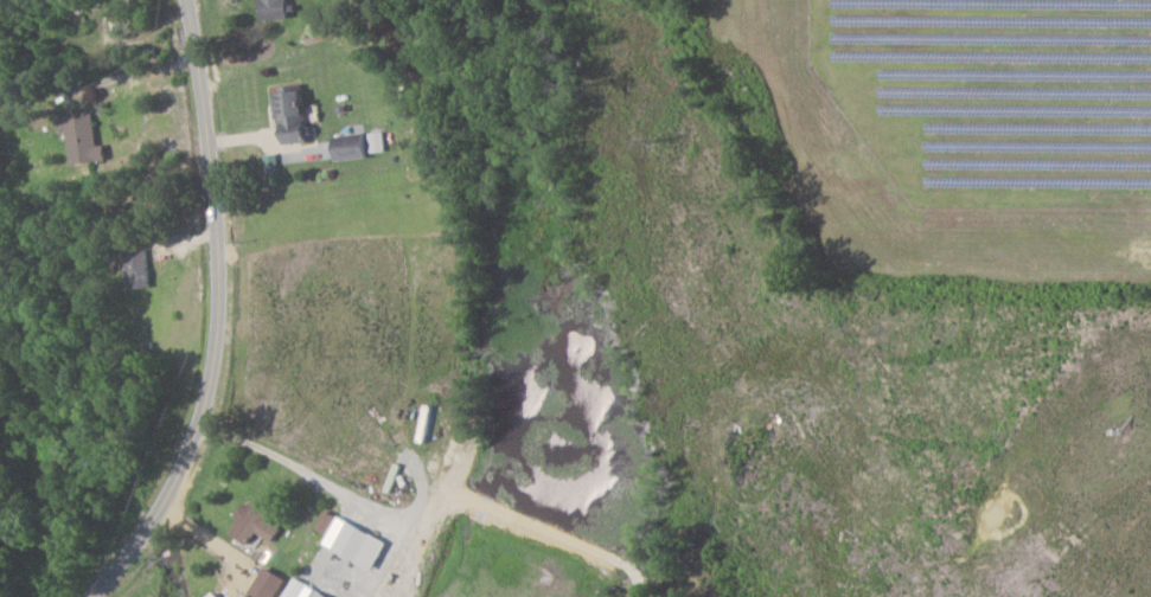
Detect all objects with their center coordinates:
building: (274, 8)
road: (139, 76)
solar farm: (993, 95)
building: (293, 115)
building: (84, 139)
building: (377, 141)
building: (351, 146)
building: (271, 162)
building: (138, 269)
road: (217, 313)
building: (255, 522)
building: (352, 540)
building: (269, 583)
building: (302, 590)
building: (215, 595)
building: (244, 596)

